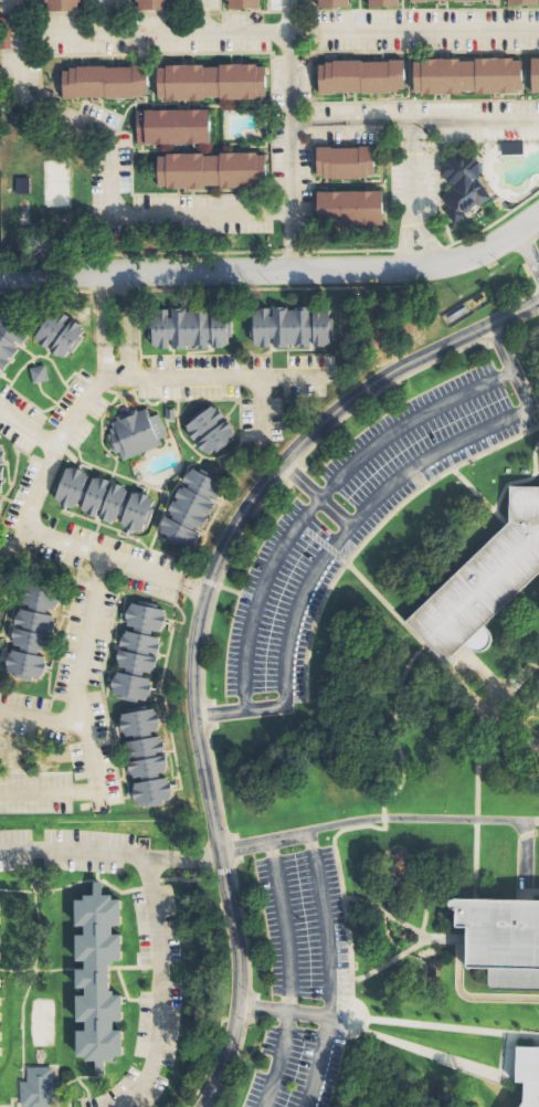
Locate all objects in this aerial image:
building: (415, 0)
building: (466, 0)
building: (521, 1)
building: (242, 3)
building: (331, 3)
building: (382, 3)
building: (61, 4)
building: (151, 4)
road: (105, 17)
road: (197, 17)
road: (276, 31)
building: (6, 33)
building: (533, 74)
building: (464, 75)
building: (359, 76)
building: (103, 81)
building: (210, 81)
road: (412, 122)
building: (171, 126)
road: (286, 135)
building: (512, 148)
road: (410, 161)
building: (344, 162)
road: (107, 168)
building: (210, 169)
building: (24, 186)
building: (459, 186)
building: (347, 208)
road: (422, 233)
road: (402, 234)
road: (528, 252)
road: (276, 271)
road: (114, 309)
road: (515, 321)
building: (12, 327)
building: (293, 327)
building: (190, 329)
building: (59, 334)
road: (496, 342)
road: (115, 362)
building: (36, 373)
road: (380, 389)
road: (257, 408)
building: (167, 413)
building: (209, 429)
road: (27, 430)
road: (61, 430)
building: (135, 433)
building: (1, 475)
road: (293, 477)
road: (431, 481)
road: (314, 495)
road: (317, 497)
building: (102, 498)
building: (190, 506)
parking lot: (356, 517)
road: (355, 518)
road: (12, 544)
road: (233, 545)
road: (361, 580)
building: (484, 581)
road: (194, 624)
building: (32, 628)
building: (137, 649)
road: (201, 649)
road: (211, 714)
road: (40, 719)
road: (511, 719)
road: (81, 721)
road: (479, 721)
road: (393, 729)
building: (145, 755)
road: (213, 782)
road: (97, 799)
road: (382, 818)
road: (399, 818)
road: (475, 819)
road: (530, 821)
road: (331, 837)
road: (235, 847)
parking lot: (65, 850)
road: (109, 853)
road: (474, 858)
road: (527, 892)
road: (344, 898)
building: (0, 922)
parking lot: (154, 925)
road: (242, 928)
building: (501, 937)
building: (0, 955)
road: (388, 961)
road: (326, 970)
road: (287, 974)
building: (97, 977)
parking lot: (299, 981)
building: (0, 982)
road: (159, 988)
road: (466, 995)
road: (253, 1009)
building: (0, 1013)
parking lot: (158, 1022)
road: (522, 1035)
building: (0, 1048)
road: (233, 1058)
road: (505, 1059)
road: (318, 1063)
building: (529, 1073)
building: (40, 1088)
parking lot: (127, 1090)

